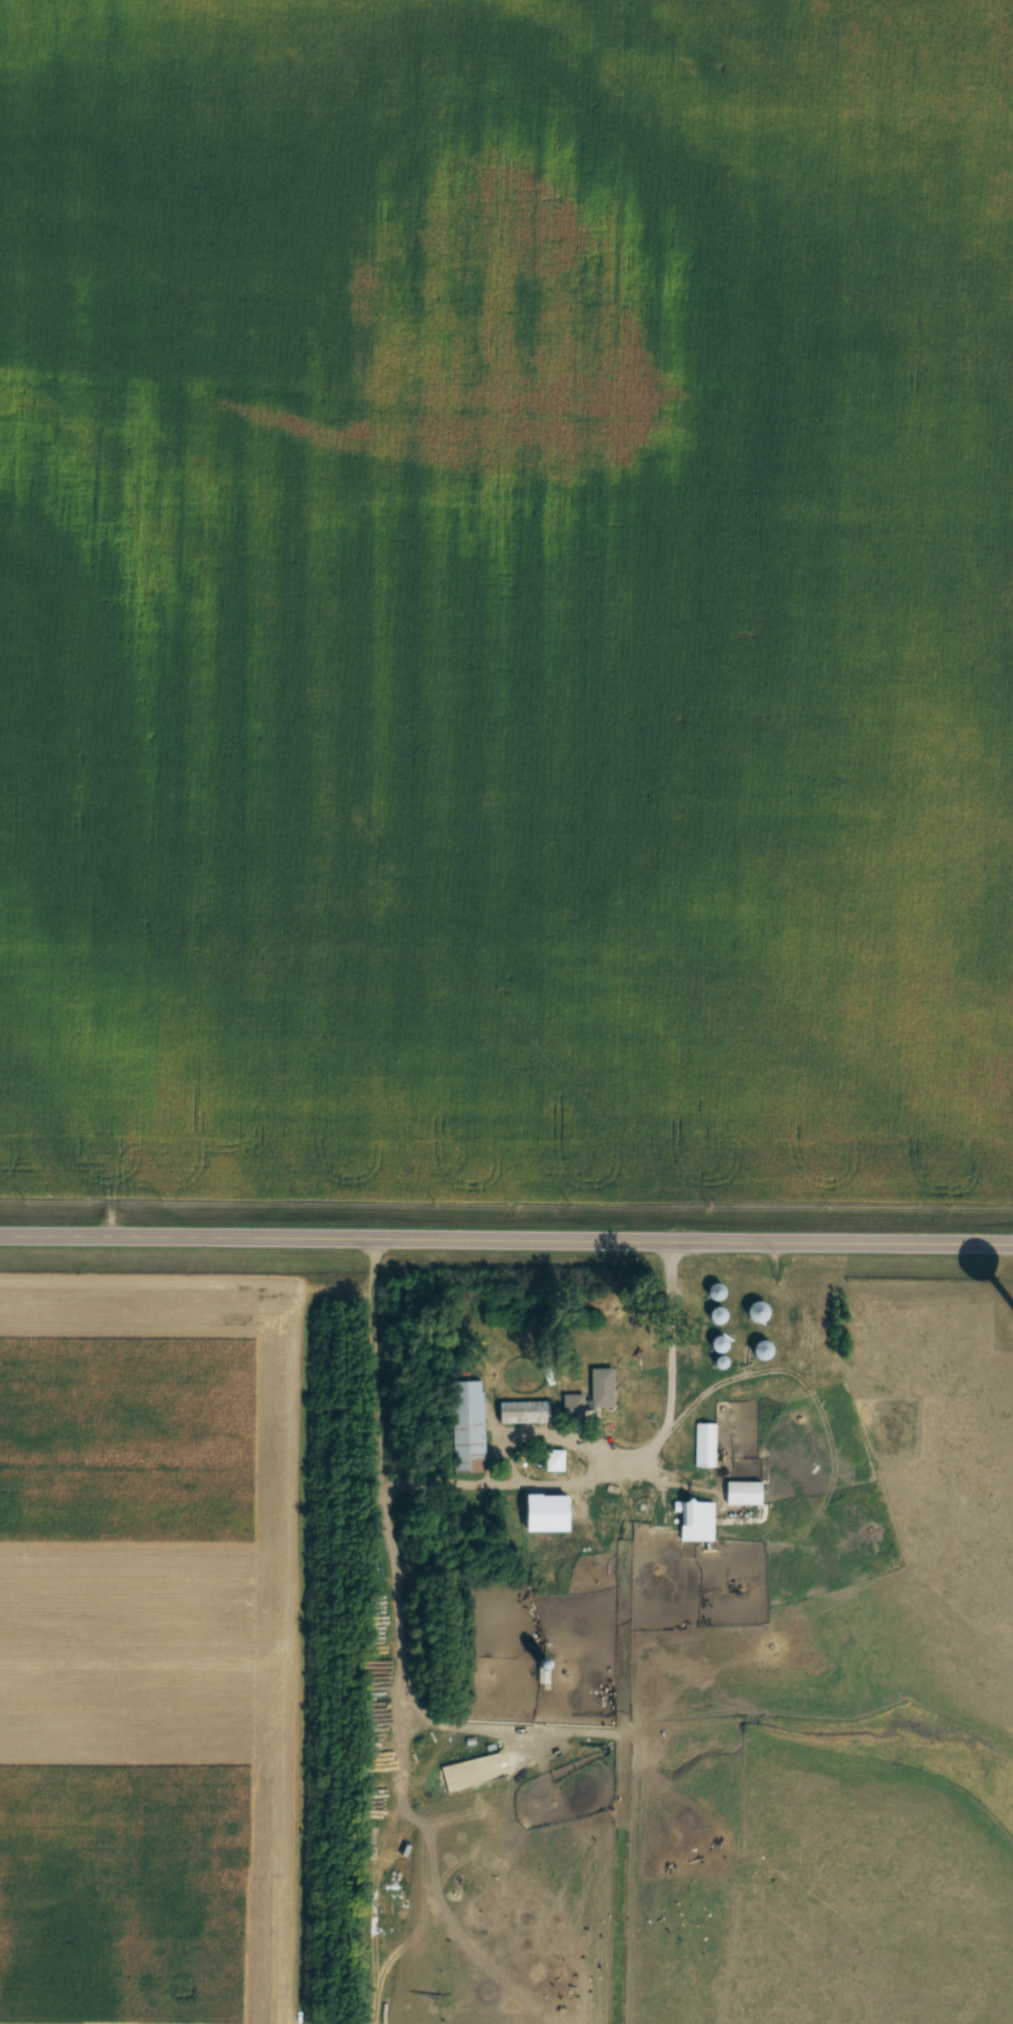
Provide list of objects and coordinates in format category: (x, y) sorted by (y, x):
road: (506, 1235)
building: (710, 1291)
building: (752, 1311)
building: (711, 1315)
building: (754, 1349)
building: (714, 1351)
road: (668, 1372)
building: (588, 1394)
building: (520, 1411)
building: (464, 1425)
building: (702, 1445)
building: (549, 1460)
building: (736, 1493)
building: (545, 1502)
building: (596, 1505)
building: (691, 1520)

